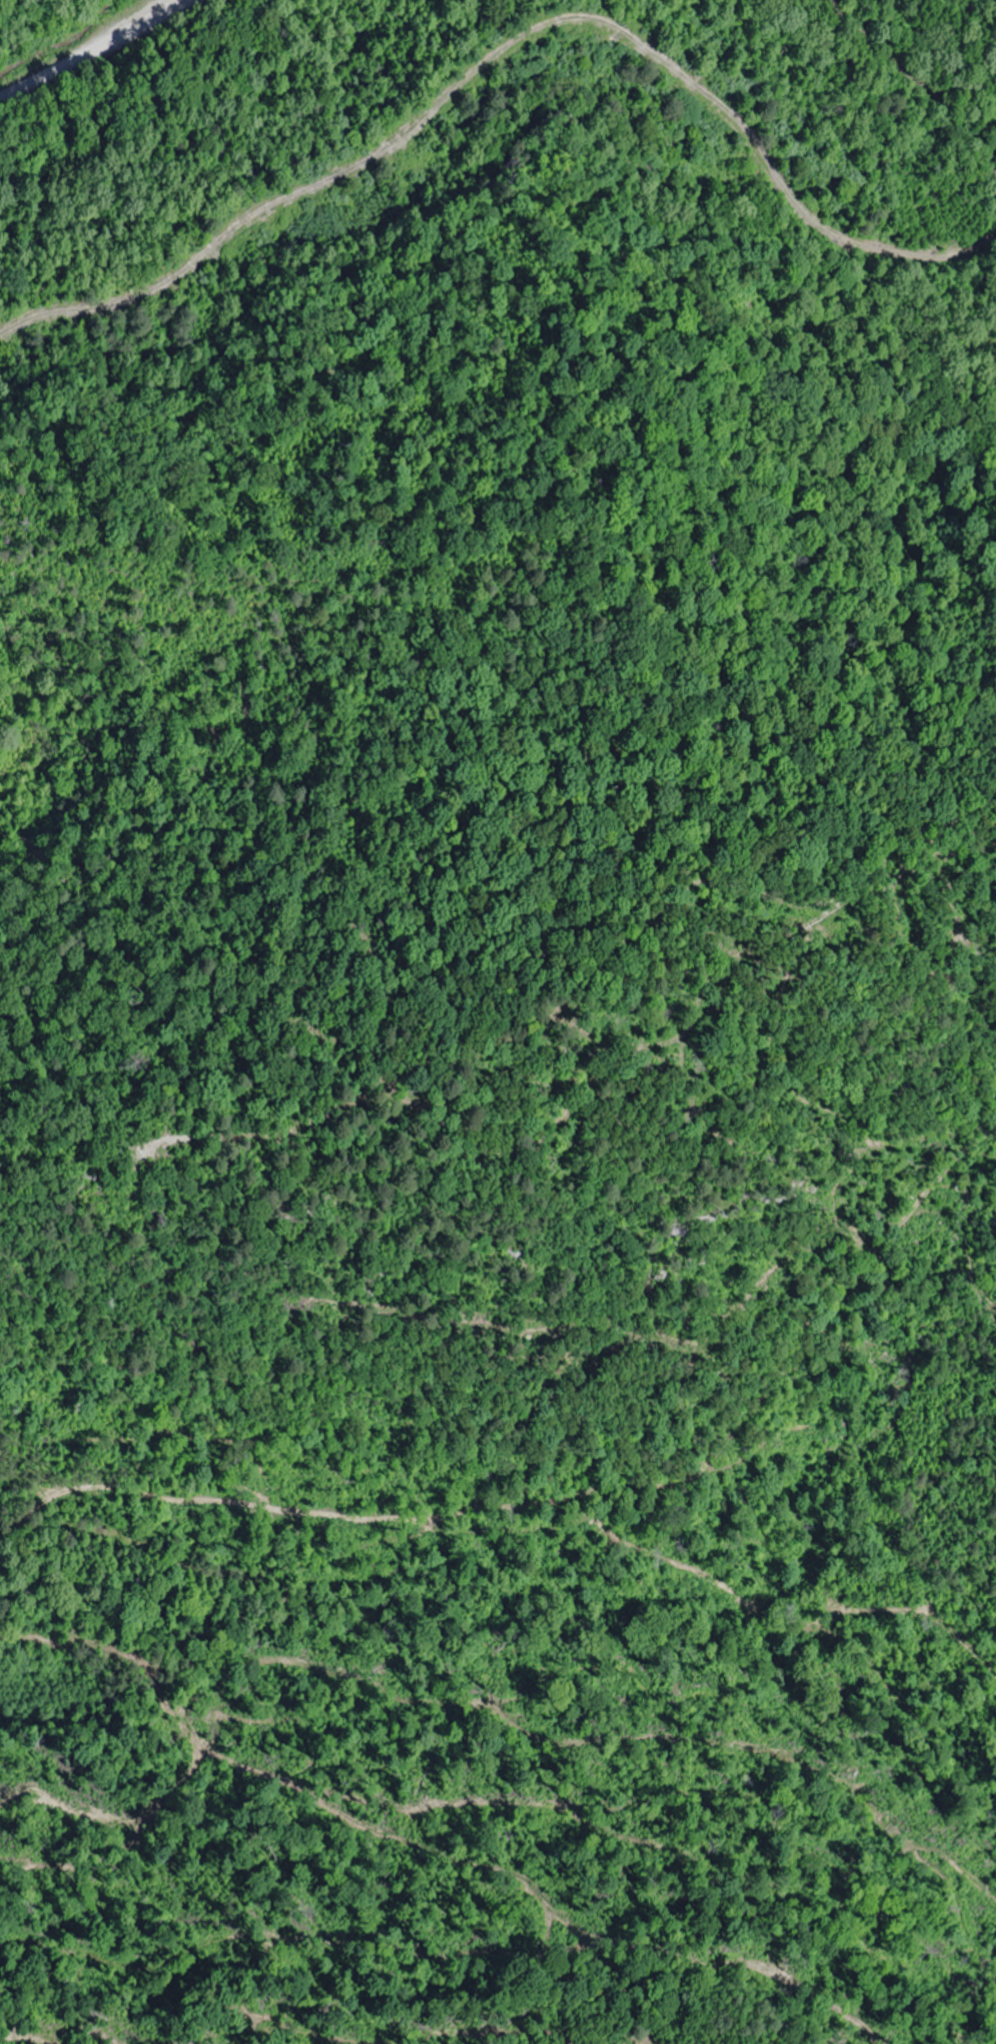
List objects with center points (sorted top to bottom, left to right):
road: (96, 54)

